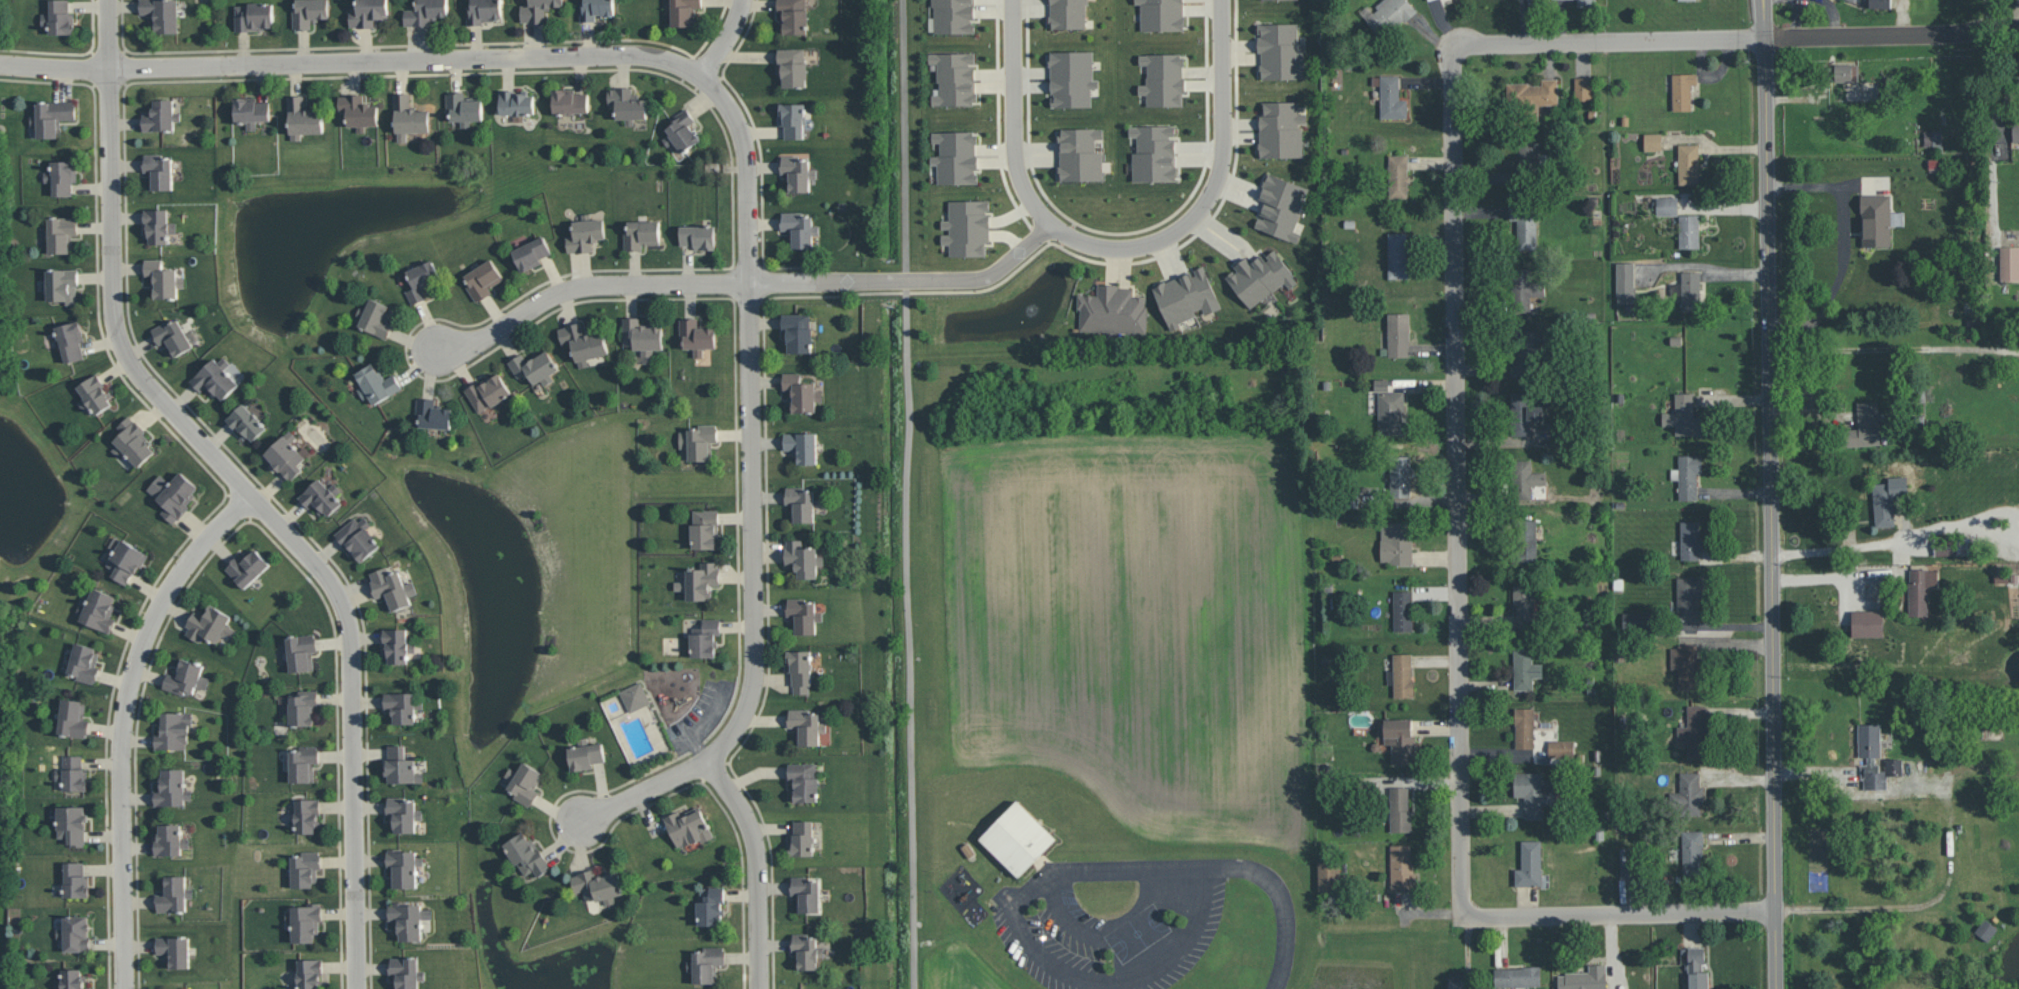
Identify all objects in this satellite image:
building: (1685, 0)
building: (1859, 1)
building: (1587, 2)
building: (1880, 3)
building: (1559, 4)
building: (538, 9)
building: (595, 9)
building: (483, 11)
building: (309, 12)
building: (368, 12)
building: (426, 12)
building: (684, 12)
building: (163, 14)
building: (1068, 14)
building: (1161, 14)
building: (1389, 15)
building: (254, 16)
building: (793, 16)
building: (953, 16)
building: (59, 17)
road: (1892, 35)
road: (726, 38)
building: (1281, 51)
road: (408, 58)
road: (55, 66)
building: (793, 67)
building: (1845, 72)
building: (954, 78)
building: (1072, 78)
building: (1163, 79)
building: (1583, 88)
building: (1683, 90)
building: (1533, 92)
building: (1392, 98)
building: (570, 101)
building: (516, 102)
building: (627, 103)
building: (464, 107)
building: (251, 110)
building: (358, 111)
road: (1013, 114)
building: (161, 116)
building: (409, 116)
building: (52, 117)
building: (303, 118)
building: (792, 120)
road: (1766, 126)
building: (1281, 129)
building: (2015, 131)
building: (682, 132)
building: (1934, 139)
building: (1653, 141)
building: (1154, 153)
building: (1080, 154)
building: (956, 157)
building: (1688, 163)
building: (158, 171)
building: (798, 172)
building: (62, 176)
building: (1398, 176)
road: (1213, 193)
building: (1281, 206)
building: (1682, 218)
building: (1878, 220)
building: (1521, 222)
building: (158, 225)
building: (967, 227)
building: (801, 229)
building: (62, 233)
building: (586, 233)
building: (641, 234)
building: (699, 236)
road: (1845, 244)
building: (531, 253)
building: (1398, 255)
building: (2009, 263)
building: (1260, 277)
building: (163, 279)
building: (483, 279)
building: (421, 280)
road: (910, 280)
building: (1625, 282)
building: (62, 284)
road: (585, 286)
building: (1524, 289)
building: (1690, 290)
building: (1187, 296)
building: (1113, 311)
building: (375, 317)
road: (1455, 326)
building: (798, 332)
building: (642, 335)
building: (697, 335)
building: (1398, 335)
building: (173, 336)
building: (71, 339)
building: (583, 342)
building: (1524, 357)
building: (535, 367)
building: (216, 378)
building: (376, 383)
building: (488, 392)
building: (802, 393)
building: (95, 394)
building: (1391, 409)
building: (1523, 413)
building: (433, 414)
building: (1684, 415)
road: (752, 417)
building: (247, 422)
building: (1865, 425)
building: (133, 441)
building: (699, 441)
building: (802, 446)
building: (285, 456)
building: (1688, 475)
building: (1400, 476)
building: (1526, 479)
road: (249, 488)
building: (174, 494)
road: (908, 494)
building: (322, 497)
building: (1888, 499)
building: (801, 504)
building: (705, 528)
building: (358, 538)
building: (1691, 540)
building: (1396, 542)
road: (1845, 547)
building: (1947, 550)
building: (803, 558)
building: (126, 559)
building: (248, 567)
road: (1827, 576)
building: (700, 581)
building: (392, 587)
building: (1918, 592)
building: (1689, 596)
building: (1524, 604)
building: (99, 610)
building: (1403, 610)
building: (803, 616)
building: (1639, 620)
road: (1774, 620)
building: (1867, 623)
building: (210, 624)
building: (705, 638)
building: (397, 645)
building: (301, 652)
building: (84, 662)
building: (1686, 665)
building: (800, 669)
building: (1525, 669)
building: (1402, 675)
building: (187, 677)
building: (635, 696)
building: (402, 706)
building: (303, 707)
building: (73, 718)
road: (121, 720)
building: (806, 725)
building: (1524, 727)
building: (173, 729)
building: (1695, 731)
building: (1400, 739)
building: (1550, 746)
building: (585, 754)
building: (1874, 758)
building: (303, 762)
building: (401, 766)
building: (73, 773)
building: (804, 781)
building: (525, 782)
building: (171, 788)
road: (643, 791)
building: (1535, 792)
building: (1689, 793)
building: (1400, 808)
building: (403, 813)
building: (307, 814)
building: (73, 824)
building: (688, 827)
building: (802, 838)
building: (1019, 838)
building: (170, 840)
building: (1693, 852)
building: (527, 854)
road: (1220, 861)
building: (1530, 865)
building: (404, 866)
building: (1402, 866)
building: (305, 868)
road: (757, 868)
building: (1328, 876)
building: (76, 879)
building: (598, 885)
building: (806, 893)
building: (174, 894)
building: (711, 906)
road: (1862, 907)
road: (1619, 915)
building: (409, 919)
building: (305, 922)
parking lot: (1114, 923)
building: (1986, 929)
park: (1138, 932)
building: (75, 933)
building: (175, 950)
building: (807, 950)
building: (707, 963)
building: (1697, 968)
building: (406, 972)
building: (310, 973)
building: (1518, 976)
road: (1102, 978)
building: (1584, 978)
building: (71, 980)

